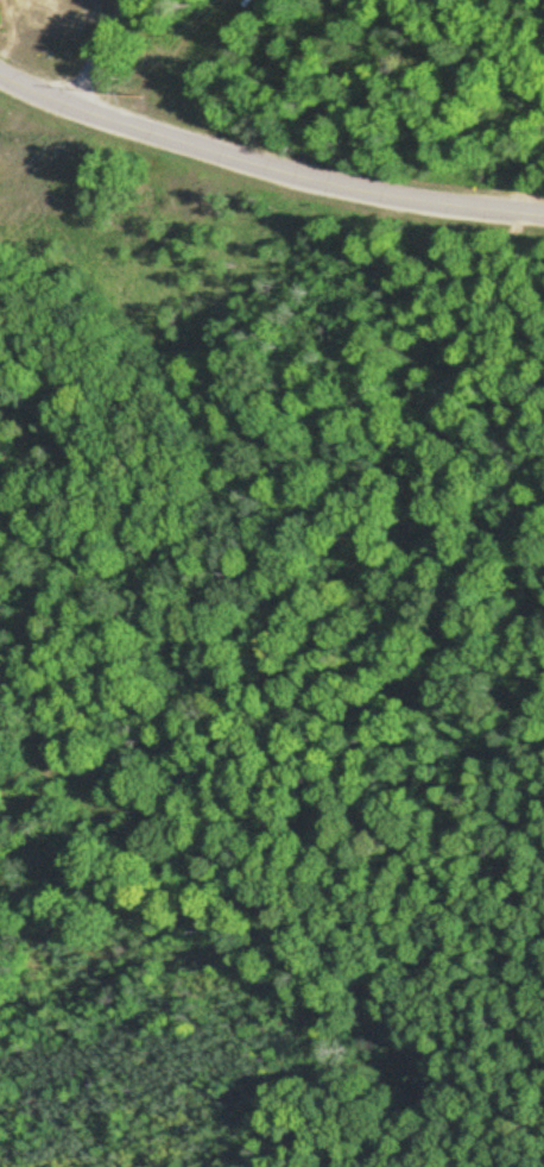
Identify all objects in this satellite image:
road: (524, 24)
road: (97, 49)
road: (25, 80)
road: (292, 169)
road: (468, 715)

